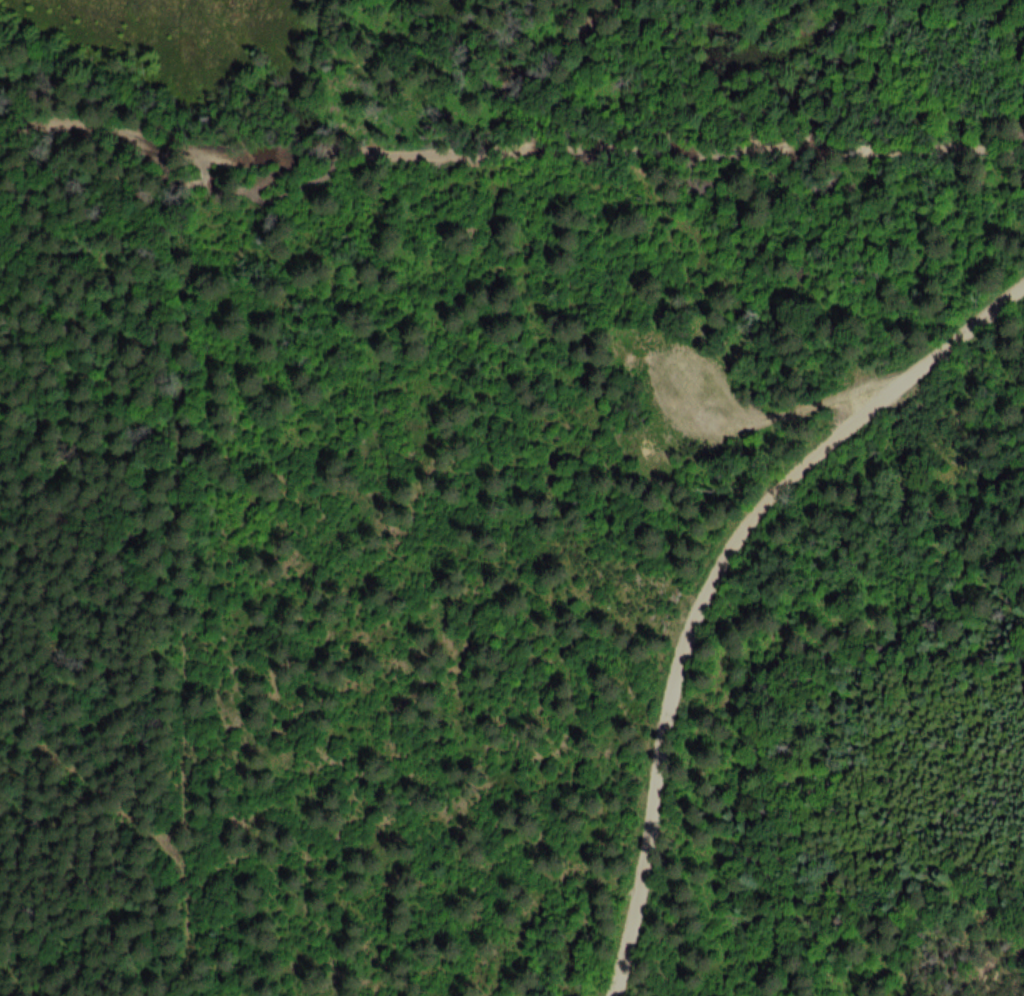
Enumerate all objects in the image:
road: (88, 133)
road: (175, 151)
road: (713, 582)
road: (84, 793)

